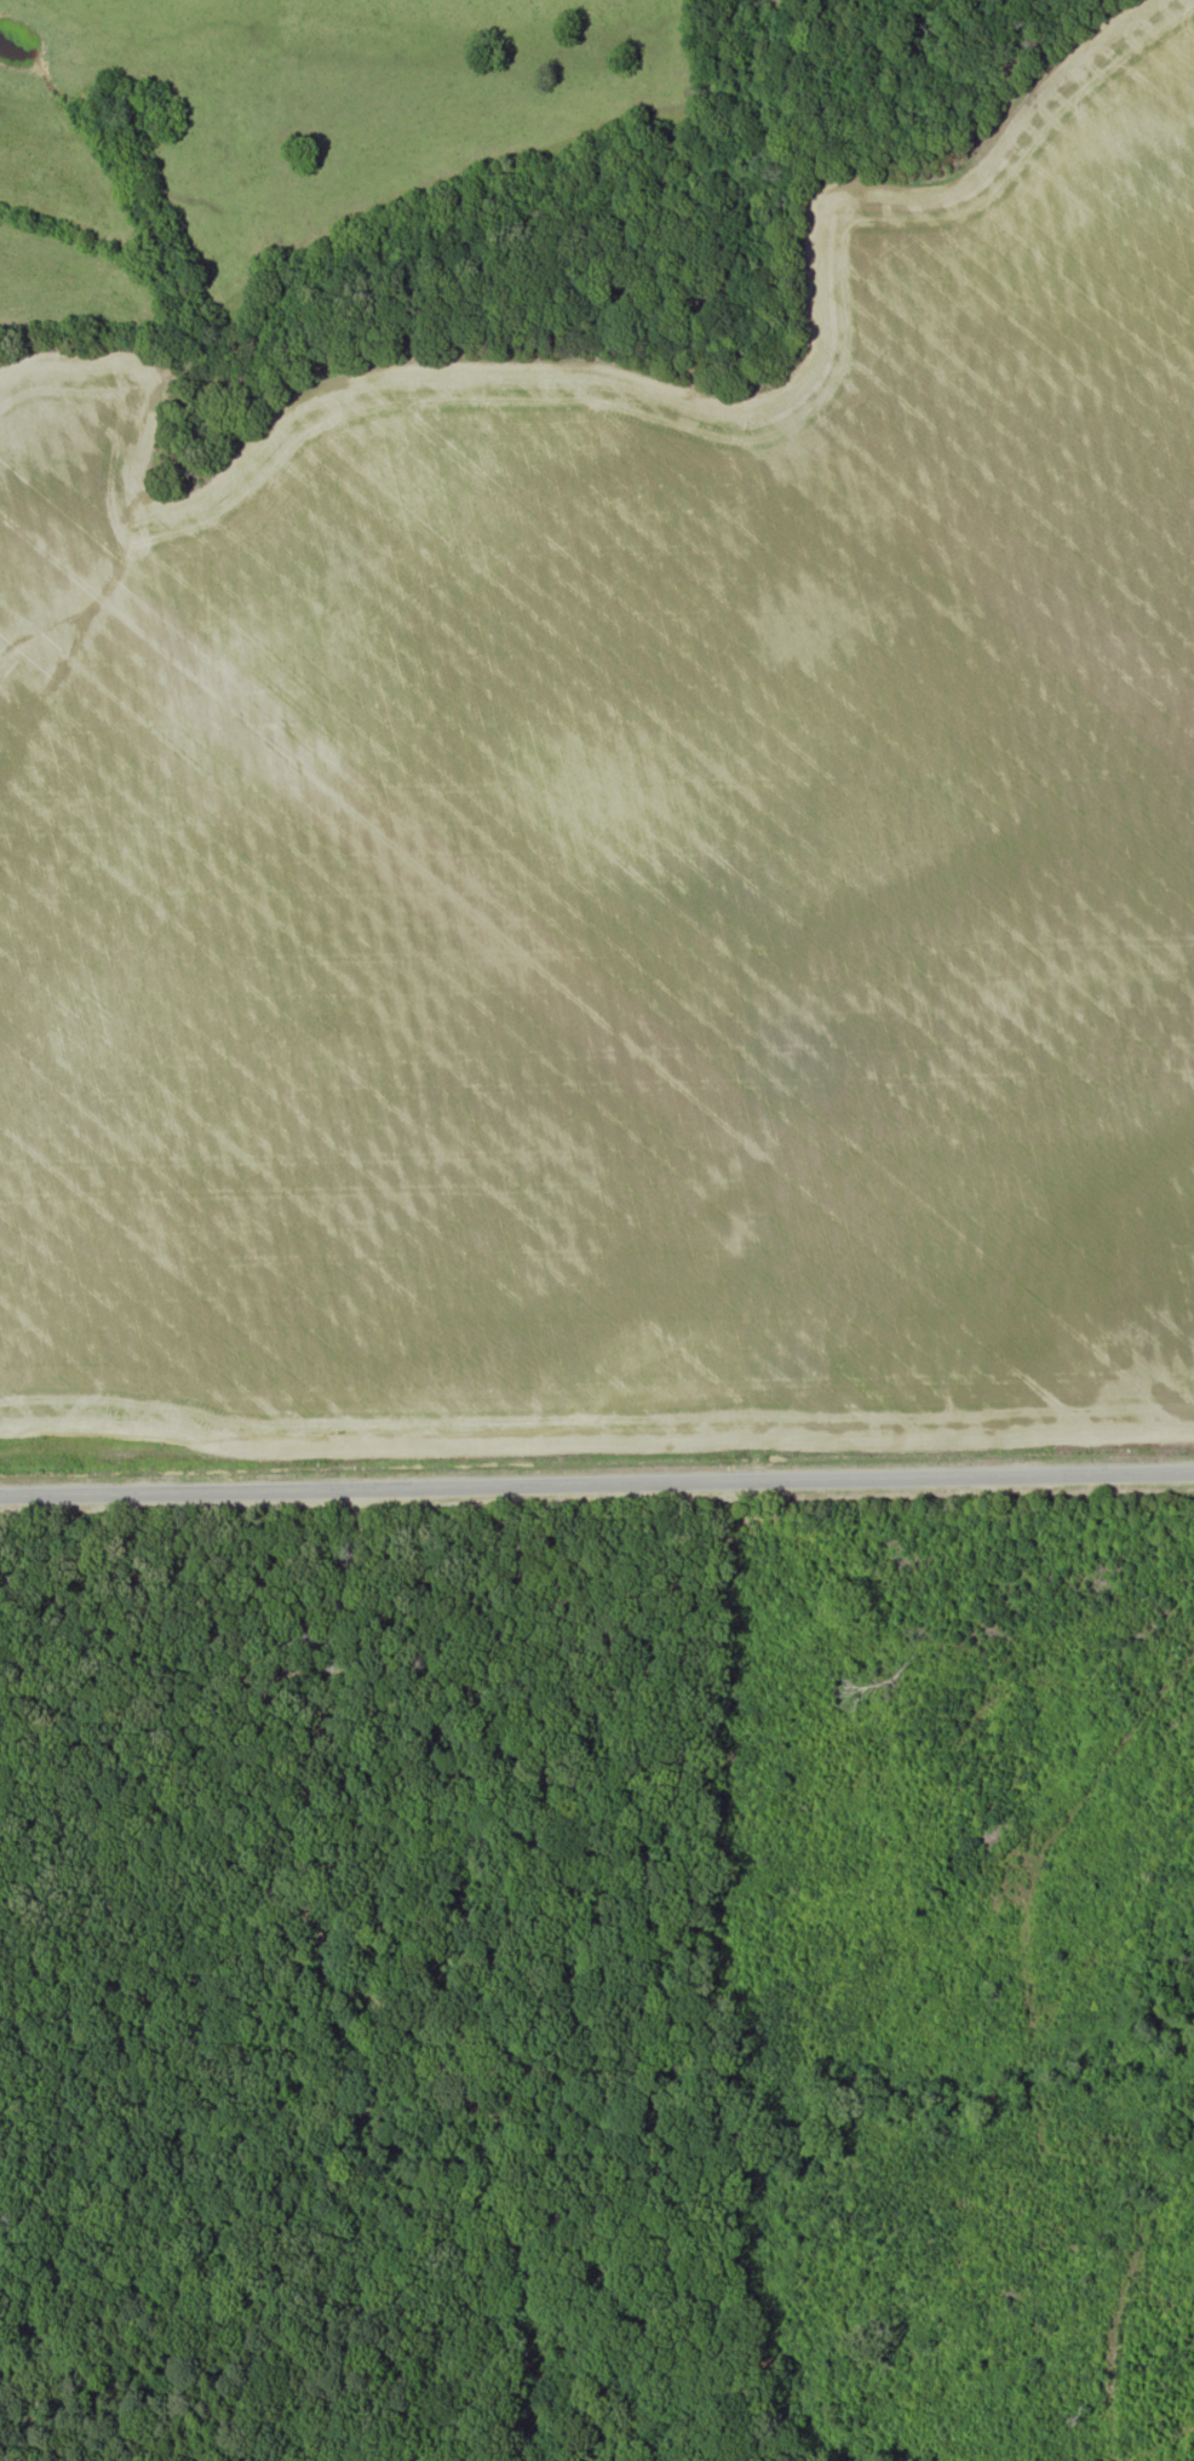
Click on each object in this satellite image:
road: (596, 1475)

